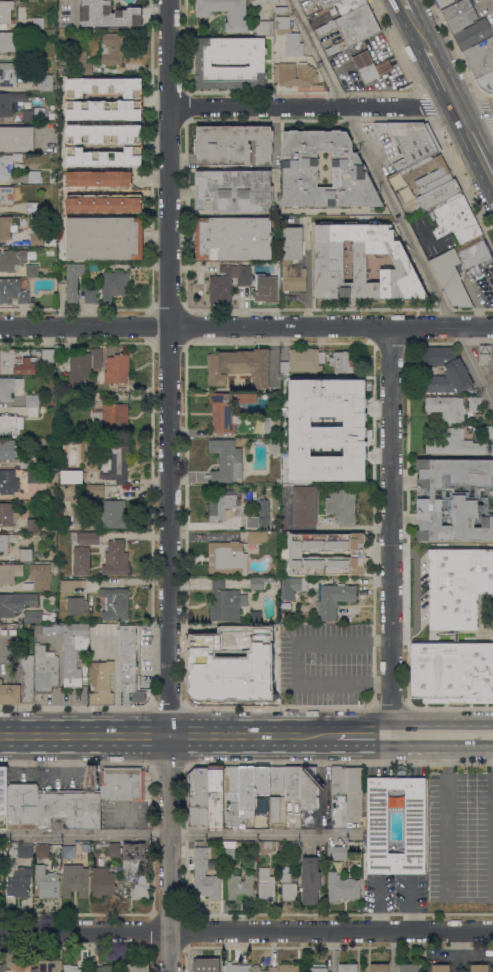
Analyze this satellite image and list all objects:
building: (297, 0)
building: (261, 1)
building: (444, 2)
building: (324, 3)
building: (349, 5)
road: (407, 7)
road: (72, 9)
building: (281, 10)
building: (5, 13)
building: (108, 14)
building: (237, 19)
building: (38, 22)
building: (466, 23)
building: (353, 25)
building: (264, 27)
road: (419, 30)
building: (289, 36)
building: (8, 41)
building: (333, 49)
building: (113, 50)
road: (316, 53)
building: (480, 58)
building: (203, 63)
building: (80, 65)
building: (371, 66)
building: (10, 73)
building: (295, 74)
road: (442, 77)
building: (46, 82)
building: (486, 82)
building: (103, 86)
building: (10, 102)
road: (330, 106)
building: (104, 110)
building: (35, 115)
building: (104, 134)
building: (17, 139)
building: (410, 141)
road: (474, 142)
building: (232, 145)
building: (104, 157)
building: (8, 165)
building: (300, 168)
building: (408, 174)
building: (34, 177)
building: (99, 179)
building: (48, 191)
building: (234, 191)
building: (439, 194)
building: (7, 195)
building: (104, 203)
building: (32, 207)
road: (398, 215)
building: (456, 219)
building: (5, 227)
building: (37, 238)
building: (105, 238)
building: (232, 238)
building: (11, 259)
building: (293, 260)
building: (363, 262)
building: (95, 267)
building: (32, 270)
building: (447, 274)
building: (73, 281)
building: (228, 282)
building: (114, 285)
building: (266, 288)
building: (12, 291)
building: (91, 296)
road: (198, 324)
road: (445, 324)
building: (484, 353)
building: (48, 357)
building: (17, 361)
building: (302, 361)
building: (343, 362)
road: (473, 363)
building: (239, 366)
building: (83, 367)
building: (117, 369)
building: (445, 372)
building: (9, 387)
building: (114, 389)
building: (335, 389)
building: (88, 397)
building: (248, 397)
building: (474, 404)
building: (33, 405)
building: (446, 408)
building: (223, 412)
building: (109, 415)
building: (11, 424)
building: (335, 424)
building: (268, 425)
building: (477, 429)
building: (294, 430)
building: (489, 432)
building: (453, 443)
building: (275, 445)
building: (9, 450)
building: (492, 450)
building: (117, 460)
building: (226, 460)
building: (315, 460)
building: (34, 461)
building: (286, 468)
building: (54, 472)
building: (37, 476)
building: (75, 476)
building: (278, 480)
building: (8, 482)
road: (167, 485)
building: (93, 490)
building: (453, 499)
building: (222, 503)
building: (304, 505)
building: (342, 505)
building: (6, 514)
building: (80, 514)
building: (114, 514)
building: (264, 514)
building: (33, 524)
road: (358, 526)
road: (394, 527)
building: (256, 536)
building: (85, 537)
building: (5, 542)
building: (295, 553)
building: (26, 555)
building: (226, 557)
building: (115, 559)
building: (276, 559)
building: (81, 560)
building: (55, 564)
building: (10, 573)
building: (271, 573)
building: (39, 577)
building: (256, 583)
building: (70, 585)
building: (292, 586)
building: (458, 586)
building: (334, 599)
building: (16, 602)
building: (225, 602)
building: (115, 604)
building: (75, 605)
building: (256, 615)
building: (33, 616)
building: (12, 631)
building: (246, 631)
building: (3, 632)
building: (271, 633)
building: (447, 633)
building: (75, 636)
road: (381, 639)
building: (127, 658)
road: (299, 661)
building: (45, 669)
building: (452, 670)
building: (72, 675)
building: (27, 678)
road: (260, 680)
road: (381, 682)
building: (102, 683)
road: (217, 684)
building: (242, 685)
building: (9, 693)
building: (131, 698)
road: (364, 731)
road: (419, 731)
road: (470, 731)
road: (274, 732)
road: (190, 734)
road: (63, 735)
road: (148, 735)
building: (232, 778)
building: (277, 778)
building: (261, 780)
building: (338, 780)
road: (322, 782)
building: (292, 783)
building: (122, 784)
building: (246, 788)
building: (309, 788)
building: (4, 791)
building: (354, 791)
building: (197, 797)
building: (215, 799)
building: (23, 806)
building: (70, 809)
building: (274, 809)
building: (232, 814)
building: (377, 821)
road: (448, 828)
road: (84, 832)
road: (261, 832)
building: (7, 844)
building: (14, 844)
building: (266, 846)
building: (84, 847)
building: (109, 847)
building: (229, 849)
building: (24, 850)
building: (43, 850)
building: (68, 852)
building: (338, 852)
building: (82, 855)
building: (4, 859)
building: (132, 859)
building: (199, 874)
building: (311, 879)
building: (75, 880)
building: (19, 882)
building: (48, 882)
building: (103, 882)
building: (266, 884)
building: (238, 886)
building: (142, 887)
building: (288, 887)
building: (342, 887)
road: (378, 904)
road: (410, 904)
road: (246, 931)
road: (332, 951)
building: (49, 965)
building: (20, 966)
building: (1, 967)
building: (135, 967)
building: (237, 967)
building: (348, 967)
building: (71, 968)
building: (104, 968)
building: (205, 968)
building: (256, 968)
building: (291, 968)
building: (319, 968)
building: (379, 968)
building: (409, 968)
building: (440, 968)
building: (479, 968)

